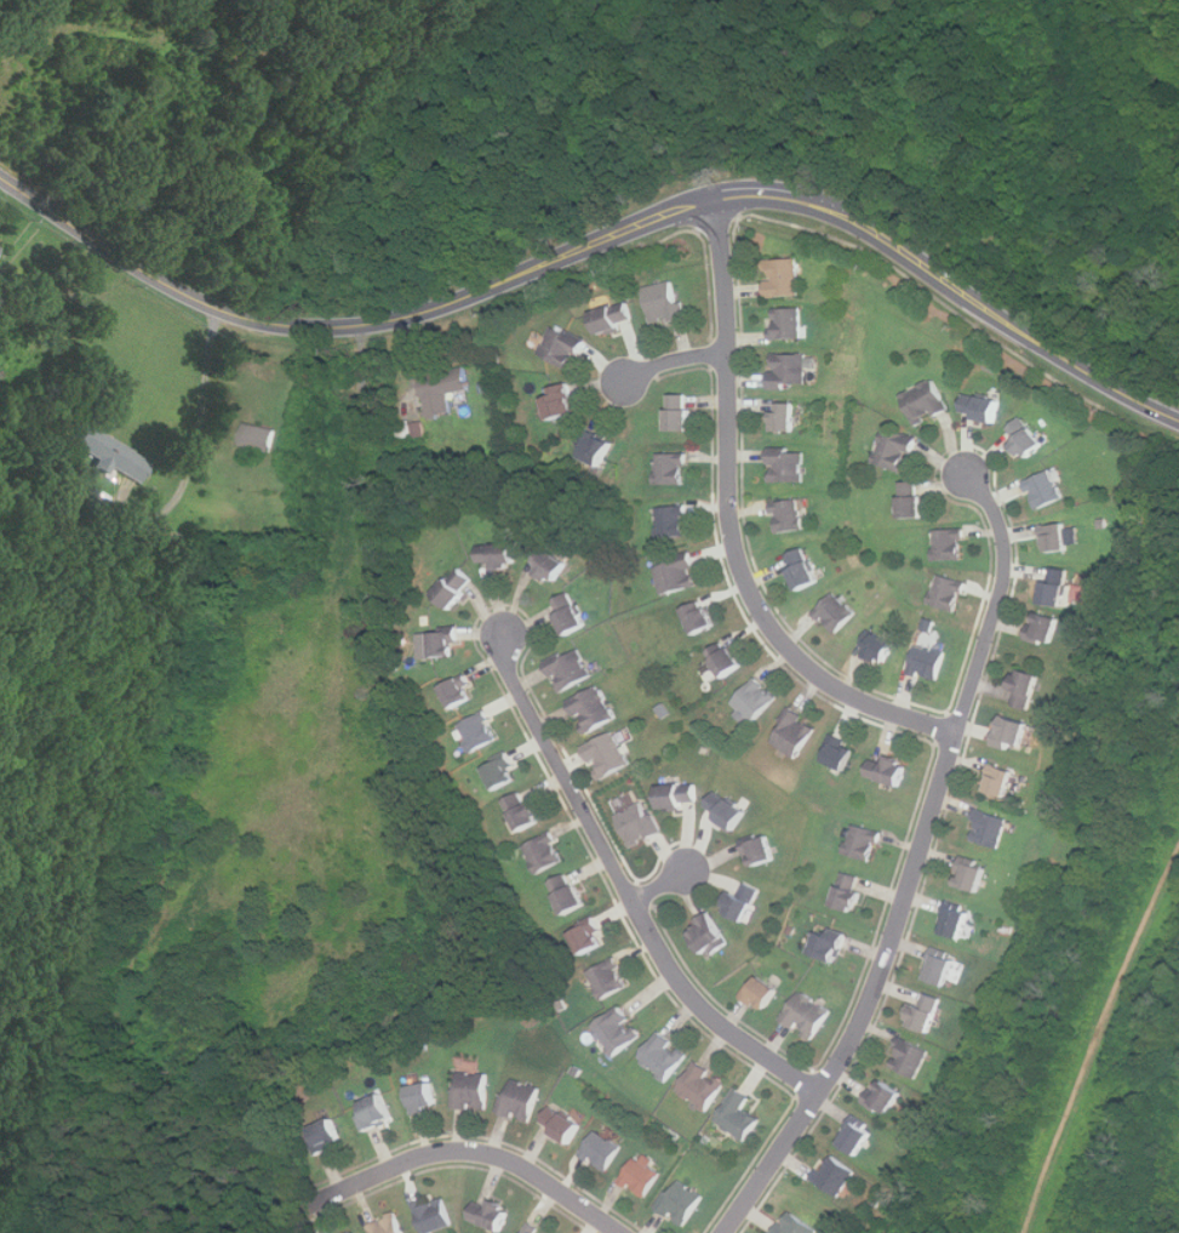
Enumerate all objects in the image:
road: (599, 238)
building: (0, 246)
building: (785, 278)
building: (666, 303)
building: (62, 308)
building: (611, 318)
building: (789, 322)
building: (562, 349)
road: (673, 361)
building: (791, 371)
building: (445, 392)
building: (927, 403)
building: (562, 404)
building: (983, 409)
road: (201, 413)
building: (682, 413)
building: (786, 418)
building: (261, 438)
building: (1026, 439)
building: (596, 449)
building: (897, 451)
building: (113, 456)
building: (789, 468)
building: (673, 469)
building: (1046, 490)
building: (914, 501)
building: (790, 516)
building: (674, 523)
road: (728, 524)
building: (1059, 538)
building: (951, 546)
building: (497, 555)
building: (551, 564)
building: (805, 571)
building: (679, 576)
building: (1058, 587)
building: (456, 590)
building: (949, 593)
building: (837, 612)
building: (571, 615)
building: (702, 618)
building: (1047, 628)
building: (446, 646)
building: (882, 647)
building: (727, 660)
building: (928, 662)
building: (572, 670)
building: (1029, 689)
building: (458, 692)
building: (756, 700)
building: (594, 709)
building: (480, 731)
building: (794, 732)
building: (1015, 732)
building: (842, 753)
building: (609, 755)
building: (892, 770)
building: (505, 772)
building: (1002, 781)
building: (680, 795)
building: (525, 810)
building: (728, 810)
building: (641, 824)
building: (991, 829)
building: (864, 843)
building: (763, 851)
building: (545, 854)
road: (914, 868)
building: (973, 877)
road: (623, 887)
road: (659, 887)
building: (849, 892)
building: (571, 894)
building: (746, 901)
building: (958, 923)
building: (712, 935)
building: (591, 938)
building: (830, 946)
building: (943, 969)
building: (611, 980)
building: (762, 993)
building: (927, 1012)
building: (808, 1016)
building: (619, 1031)
building: (664, 1056)
building: (910, 1057)
building: (703, 1085)
building: (473, 1090)
building: (424, 1096)
building: (885, 1097)
building: (521, 1100)
building: (377, 1111)
building: (739, 1115)
building: (562, 1125)
building: (327, 1135)
building: (857, 1137)
building: (603, 1151)
road: (470, 1152)
building: (835, 1175)
building: (642, 1177)
building: (682, 1201)
building: (492, 1214)
building: (435, 1215)
building: (796, 1225)
building: (388, 1226)
building: (532, 1229)

